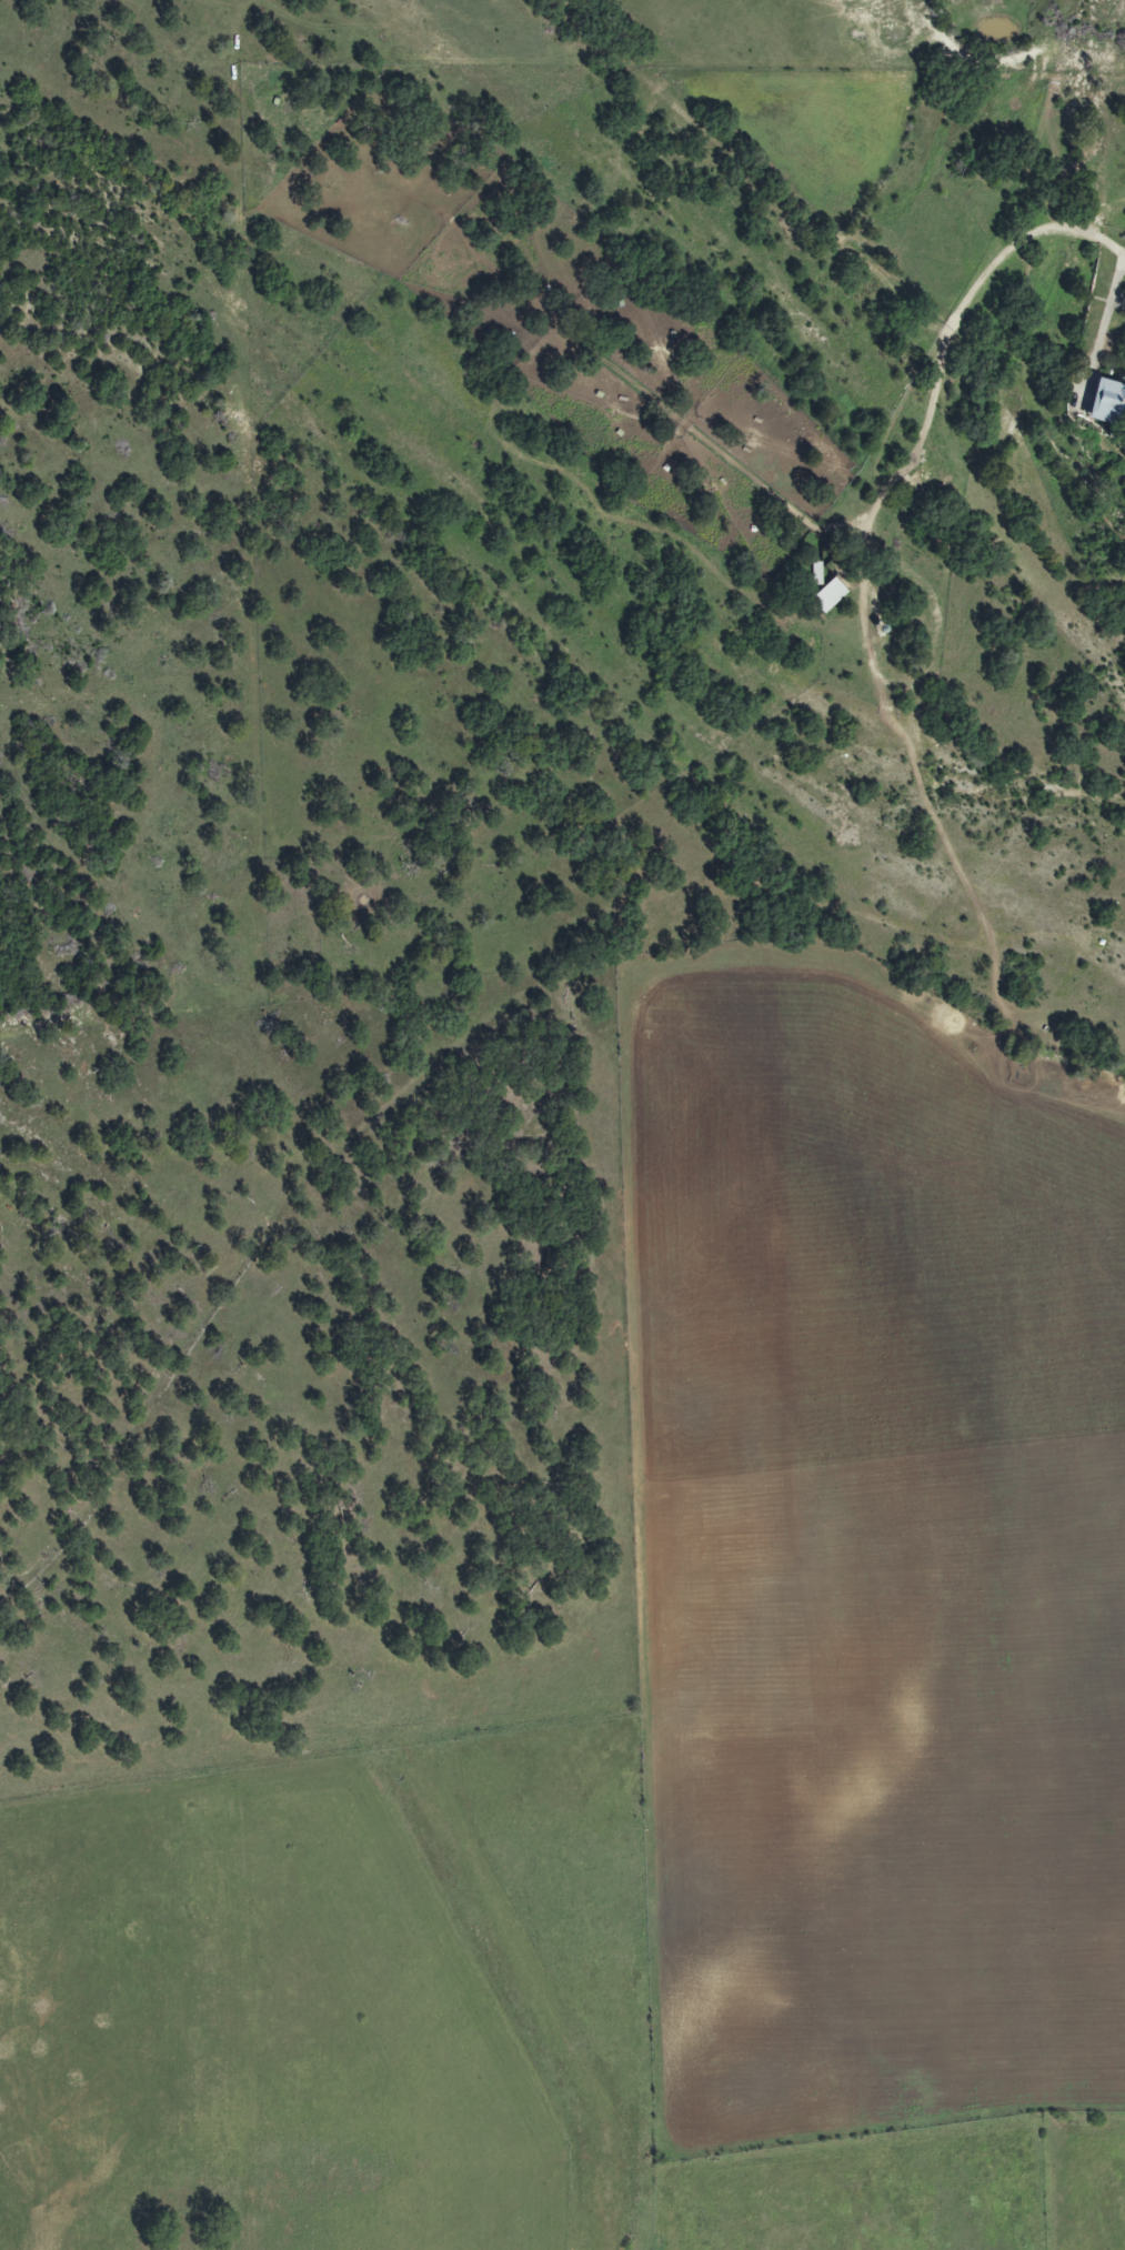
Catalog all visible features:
building: (1106, 402)
building: (827, 596)

